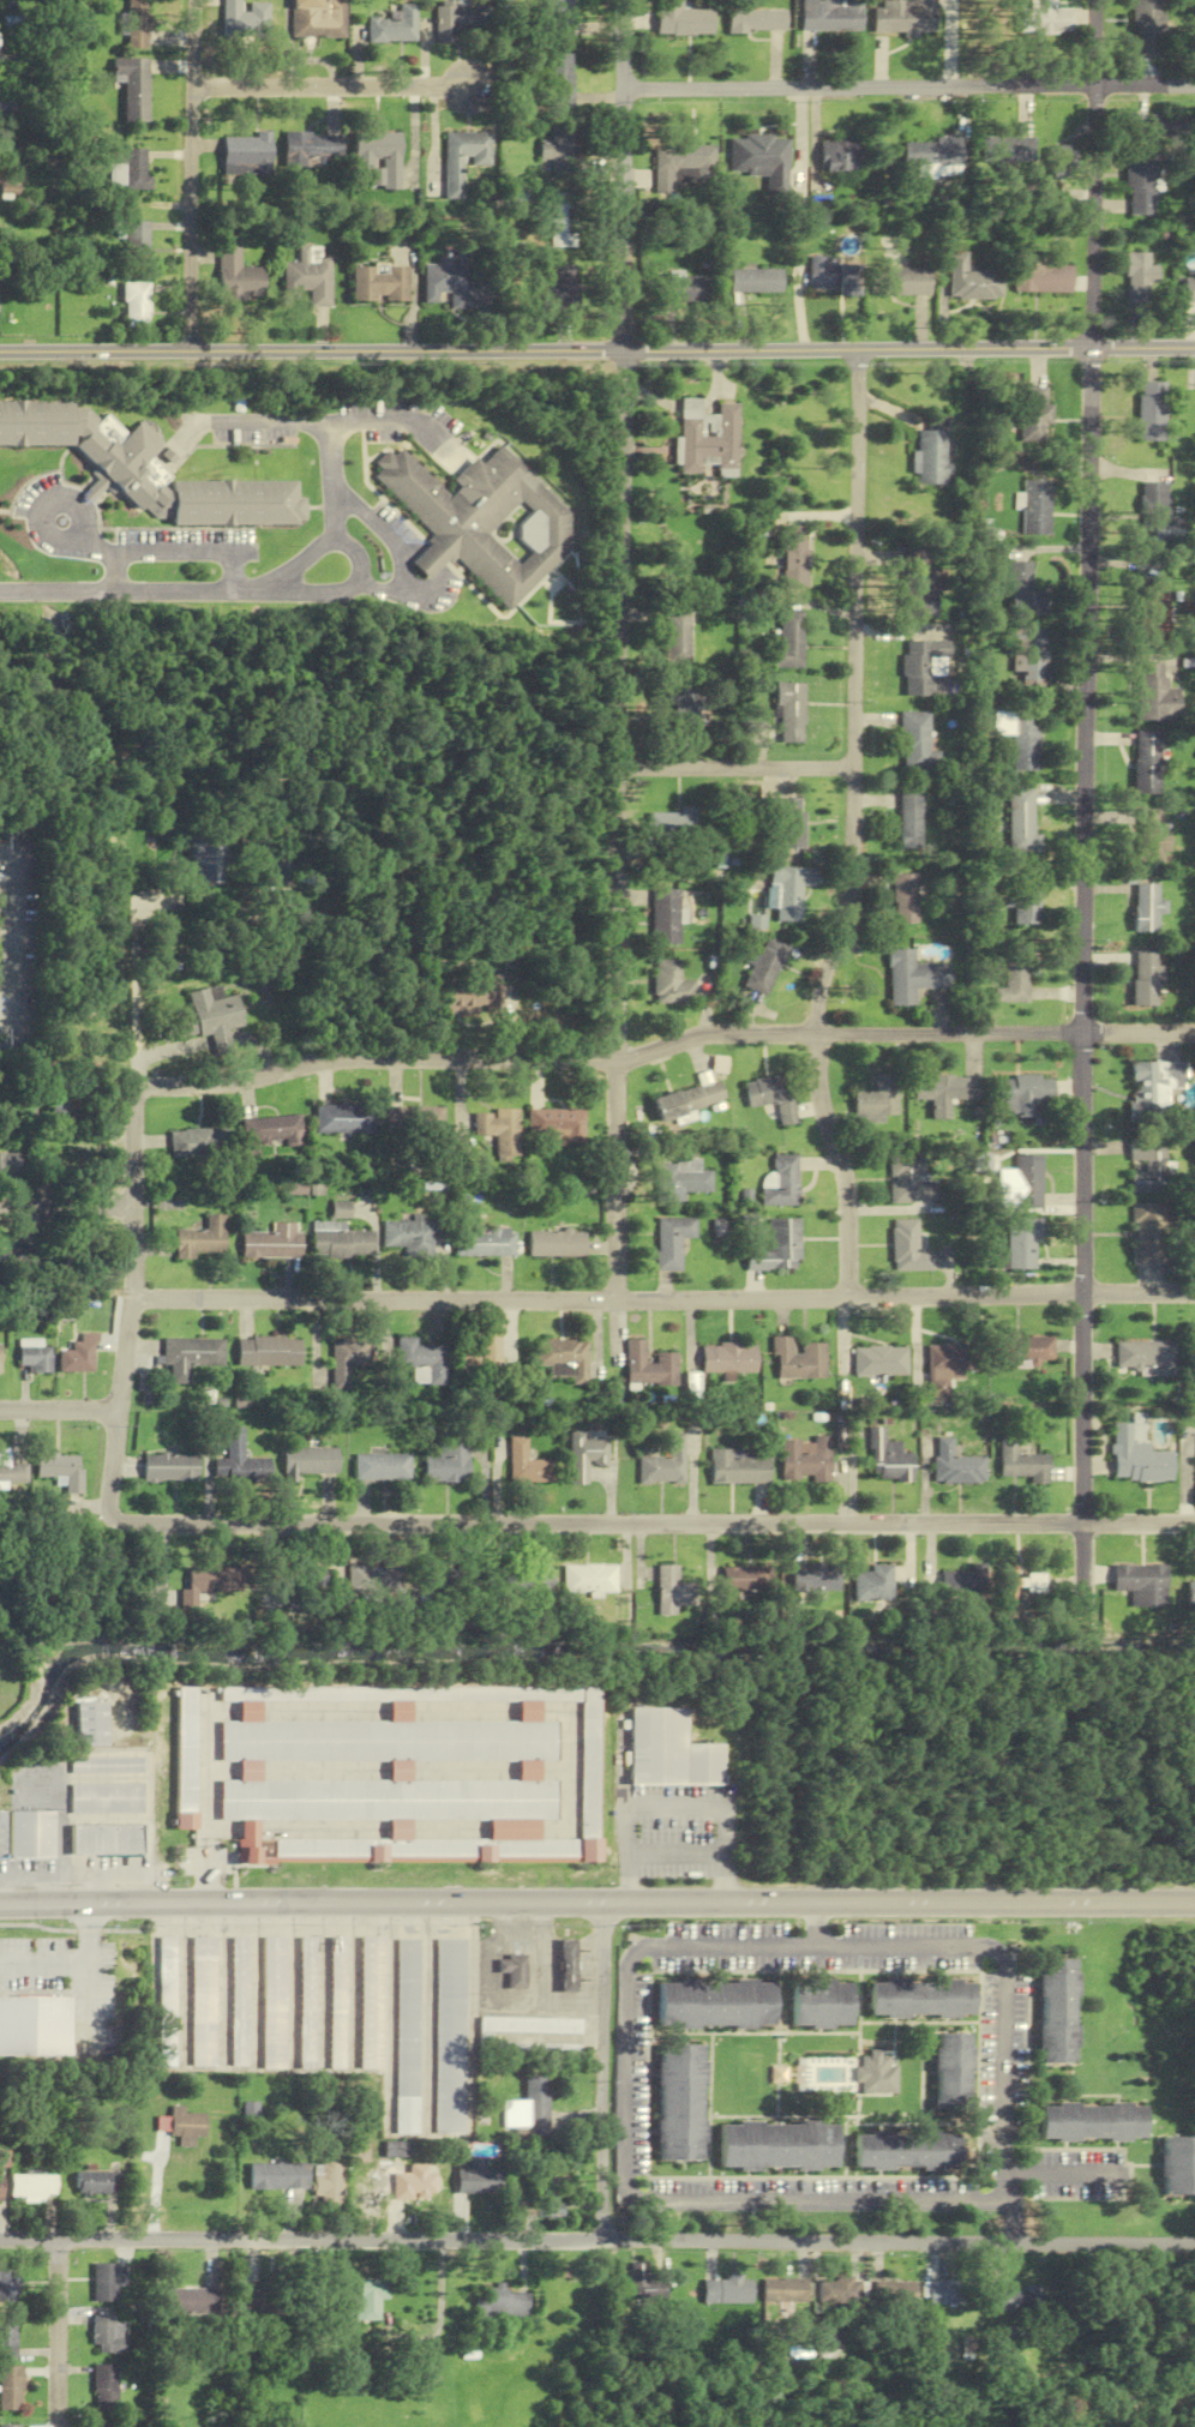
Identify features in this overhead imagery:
building: (829, 16)
building: (902, 17)
building: (1046, 17)
building: (319, 18)
building: (562, 18)
building: (245, 19)
building: (458, 19)
building: (681, 19)
building: (756, 22)
building: (137, 24)
building: (396, 25)
building: (1145, 29)
road: (328, 79)
building: (562, 80)
road: (909, 85)
building: (134, 88)
building: (1152, 126)
building: (560, 145)
building: (314, 149)
building: (1007, 149)
building: (250, 154)
building: (840, 156)
building: (382, 158)
building: (466, 158)
building: (931, 158)
building: (762, 160)
building: (1058, 163)
building: (681, 164)
building: (130, 169)
road: (187, 175)
building: (1140, 184)
building: (564, 221)
building: (137, 241)
building: (822, 275)
building: (313, 277)
building: (241, 278)
building: (968, 278)
building: (849, 280)
building: (1043, 280)
building: (1140, 281)
building: (756, 282)
building: (900, 282)
building: (451, 283)
building: (383, 284)
building: (562, 287)
building: (687, 289)
building: (1189, 292)
building: (138, 305)
road: (596, 352)
building: (1153, 411)
building: (1032, 415)
road: (400, 417)
road: (302, 422)
building: (705, 438)
building: (932, 457)
building: (142, 469)
building: (1037, 507)
building: (1154, 512)
building: (484, 523)
road: (76, 540)
road: (397, 547)
road: (169, 553)
building: (794, 557)
road: (359, 558)
road: (114, 573)
building: (919, 584)
road: (132, 593)
building: (1027, 593)
building: (1154, 609)
building: (677, 635)
building: (789, 642)
road: (619, 648)
building: (1031, 659)
building: (924, 668)
building: (1157, 693)
building: (685, 704)
building: (791, 713)
building: (1021, 737)
building: (918, 744)
building: (1148, 762)
road: (737, 768)
road: (1086, 804)
building: (911, 821)
building: (1023, 822)
building: (782, 823)
road: (852, 828)
building: (672, 829)
building: (1151, 836)
building: (205, 860)
building: (789, 891)
building: (906, 899)
building: (1026, 907)
building: (1148, 907)
building: (667, 917)
road: (20, 941)
building: (765, 966)
building: (914, 977)
building: (1013, 978)
building: (1147, 979)
building: (672, 984)
road: (138, 987)
building: (475, 999)
building: (209, 1015)
road: (220, 1038)
road: (665, 1046)
road: (257, 1047)
road: (174, 1049)
building: (1154, 1086)
building: (948, 1092)
building: (1023, 1094)
building: (774, 1097)
building: (690, 1100)
building: (878, 1101)
building: (59, 1103)
building: (343, 1119)
building: (414, 1119)
building: (558, 1125)
building: (499, 1130)
building: (271, 1133)
building: (197, 1143)
building: (10, 1161)
building: (911, 1181)
building: (1026, 1181)
building: (683, 1182)
building: (781, 1183)
road: (66, 1206)
building: (340, 1211)
building: (1146, 1234)
building: (408, 1236)
building: (200, 1238)
building: (340, 1242)
building: (482, 1242)
building: (271, 1243)
building: (556, 1243)
building: (1014, 1244)
building: (669, 1245)
building: (779, 1248)
building: (908, 1248)
road: (131, 1249)
building: (20, 1255)
road: (662, 1297)
building: (1028, 1348)
building: (266, 1351)
building: (188, 1356)
building: (74, 1357)
building: (479, 1357)
building: (1146, 1357)
building: (34, 1358)
building: (728, 1358)
building: (1191, 1358)
building: (563, 1359)
building: (798, 1359)
building: (421, 1360)
building: (343, 1362)
building: (879, 1362)
building: (647, 1365)
building: (944, 1368)
road: (58, 1410)
building: (583, 1456)
building: (887, 1459)
building: (1136, 1459)
building: (804, 1460)
building: (306, 1461)
building: (238, 1462)
building: (445, 1462)
building: (1020, 1462)
building: (663, 1464)
building: (526, 1465)
building: (955, 1465)
building: (379, 1466)
building: (168, 1467)
building: (737, 1468)
building: (60, 1470)
building: (11, 1473)
road: (597, 1522)
road: (157, 1562)
building: (306, 1576)
building: (373, 1579)
building: (588, 1579)
building: (741, 1579)
building: (812, 1579)
building: (449, 1580)
building: (529, 1580)
building: (484, 1582)
building: (208, 1584)
building: (872, 1584)
building: (960, 1584)
building: (1015, 1584)
building: (1140, 1585)
building: (671, 1591)
building: (1190, 1594)
river: (572, 1651)
road: (326, 1710)
building: (89, 1724)
building: (386, 1740)
building: (667, 1750)
building: (185, 1756)
building: (103, 1765)
road: (385, 1770)
building: (588, 1770)
building: (103, 1798)
building: (385, 1798)
road: (674, 1806)
road: (444, 1828)
building: (29, 1833)
building: (1, 1834)
building: (104, 1839)
road: (199, 1840)
road: (209, 1840)
road: (626, 1854)
road: (722, 1854)
road: (204, 1878)
road: (53, 1881)
road: (106, 1892)
road: (596, 1902)
road: (812, 1924)
road: (812, 1947)
building: (565, 1966)
building: (512, 1970)
road: (182, 1984)
road: (223, 1984)
road: (253, 1984)
road: (292, 1986)
road: (322, 1986)
road: (352, 1986)
building: (919, 1999)
building: (167, 2001)
building: (203, 2001)
building: (240, 2001)
building: (307, 2001)
building: (274, 2002)
building: (337, 2002)
building: (371, 2002)
building: (714, 2005)
building: (818, 2005)
building: (1055, 2013)
road: (389, 2018)
road: (426, 2018)
road: (469, 2018)
building: (526, 2026)
building: (407, 2036)
building: (449, 2036)
road: (1004, 2053)
road: (605, 2072)
building: (876, 2073)
building: (950, 2073)
building: (679, 2104)
building: (251, 2113)
building: (529, 2113)
building: (1089, 2122)
building: (182, 2126)
building: (777, 2146)
building: (907, 2151)
building: (1177, 2167)
building: (409, 2175)
road: (1062, 2175)
building: (1, 2176)
building: (278, 2176)
building: (476, 2179)
building: (329, 2182)
building: (97, 2183)
building: (35, 2187)
building: (547, 2199)
road: (686, 2201)
road: (1007, 2210)
road: (597, 2241)
road: (392, 2260)
building: (641, 2277)
building: (10, 2283)
building: (107, 2283)
road: (385, 2289)
building: (727, 2290)
building: (785, 2290)
building: (839, 2290)
building: (893, 2293)
building: (944, 2293)
building: (265, 2297)
building: (1019, 2299)
building: (370, 2300)
building: (192, 2302)
building: (503, 2305)
road: (440, 2325)
road: (60, 2333)
building: (8, 2336)
building: (108, 2336)
building: (106, 2387)
building: (11, 2389)
building: (107, 2425)
building: (11, 2426)

